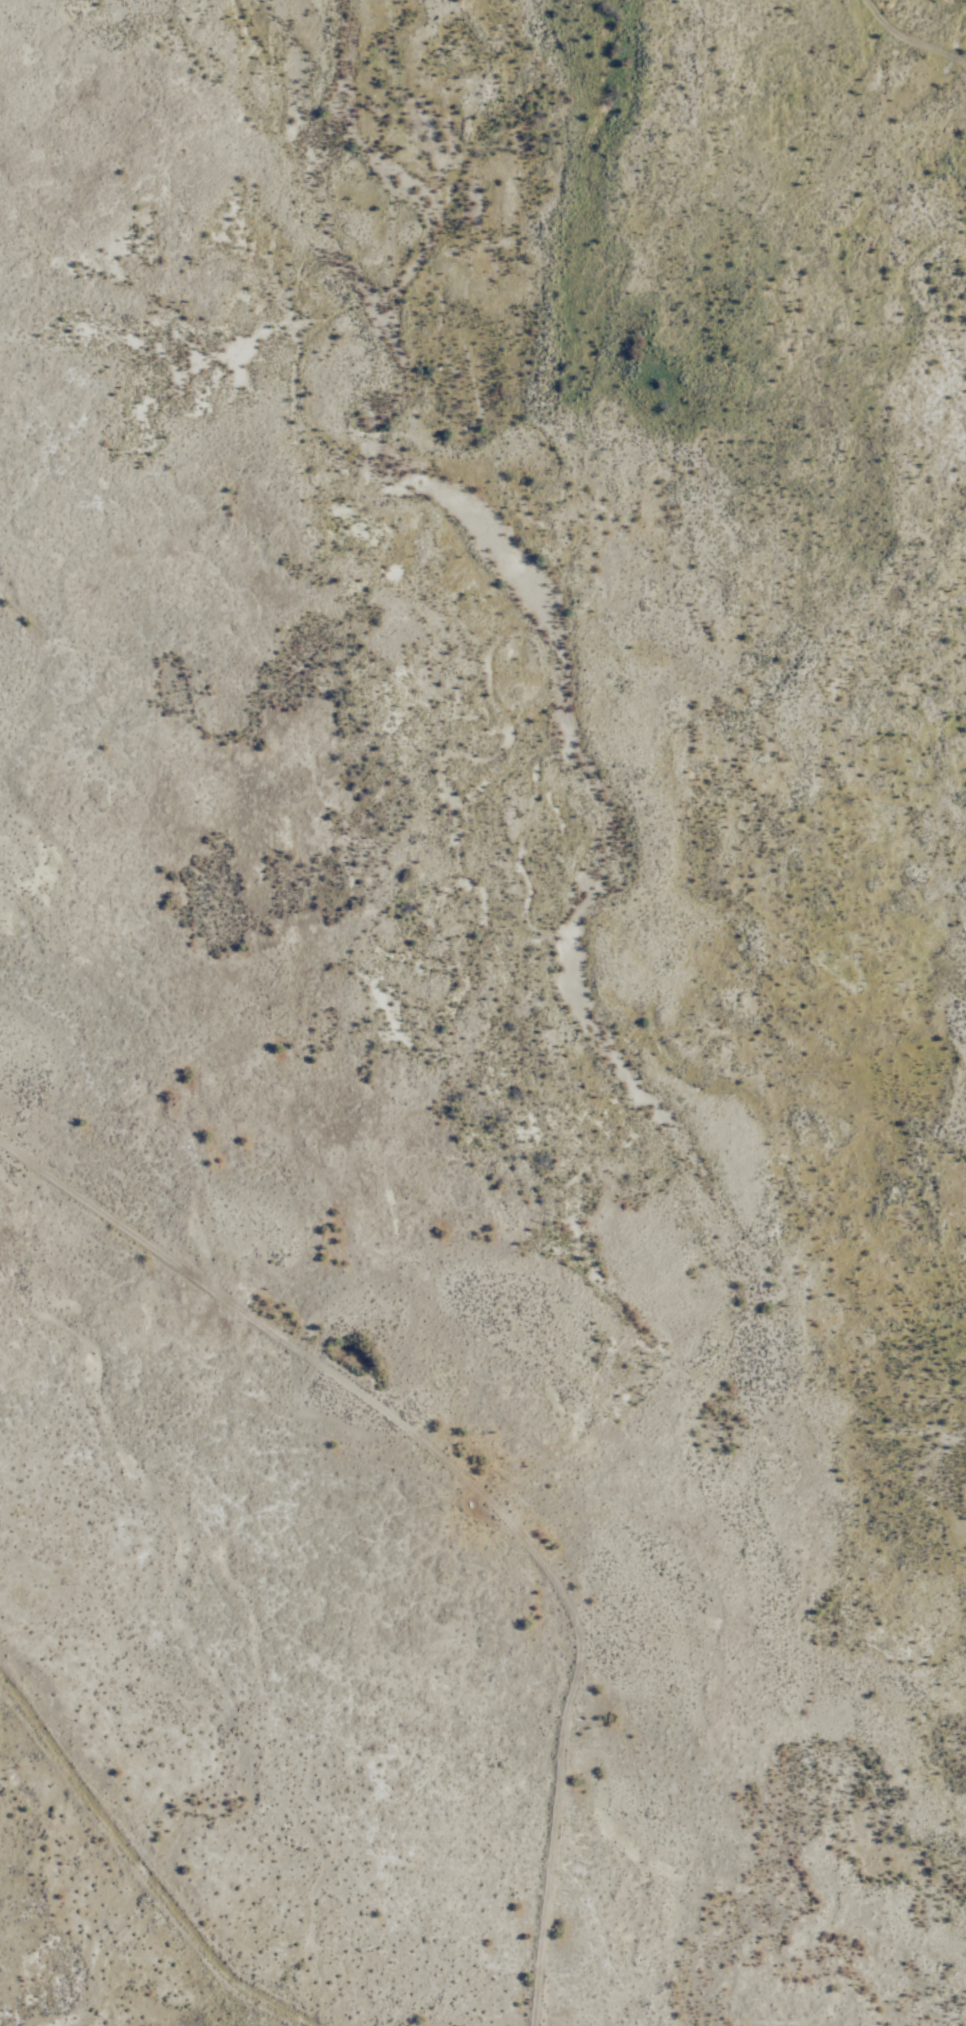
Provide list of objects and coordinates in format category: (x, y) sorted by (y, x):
road: (901, 47)
road: (460, 1493)

